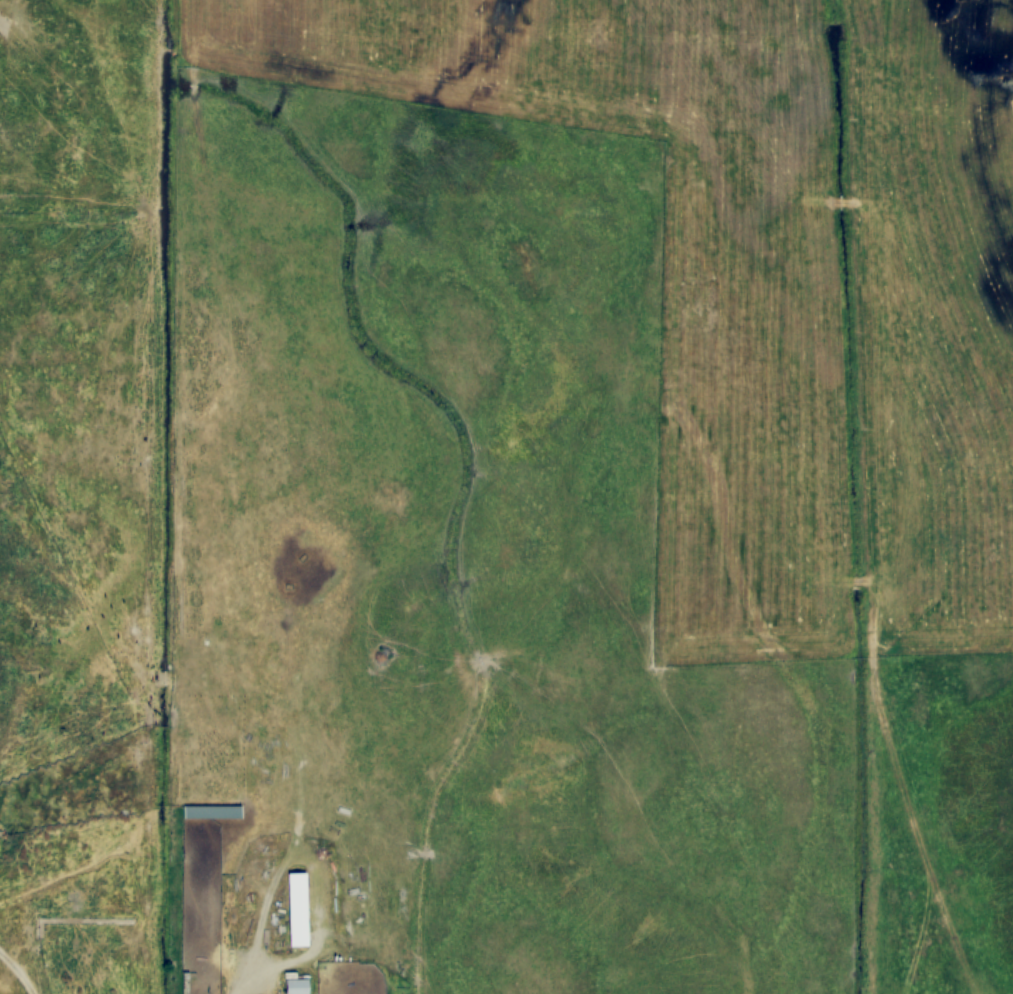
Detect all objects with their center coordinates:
building: (212, 812)
building: (73, 834)
building: (298, 909)
building: (296, 986)

